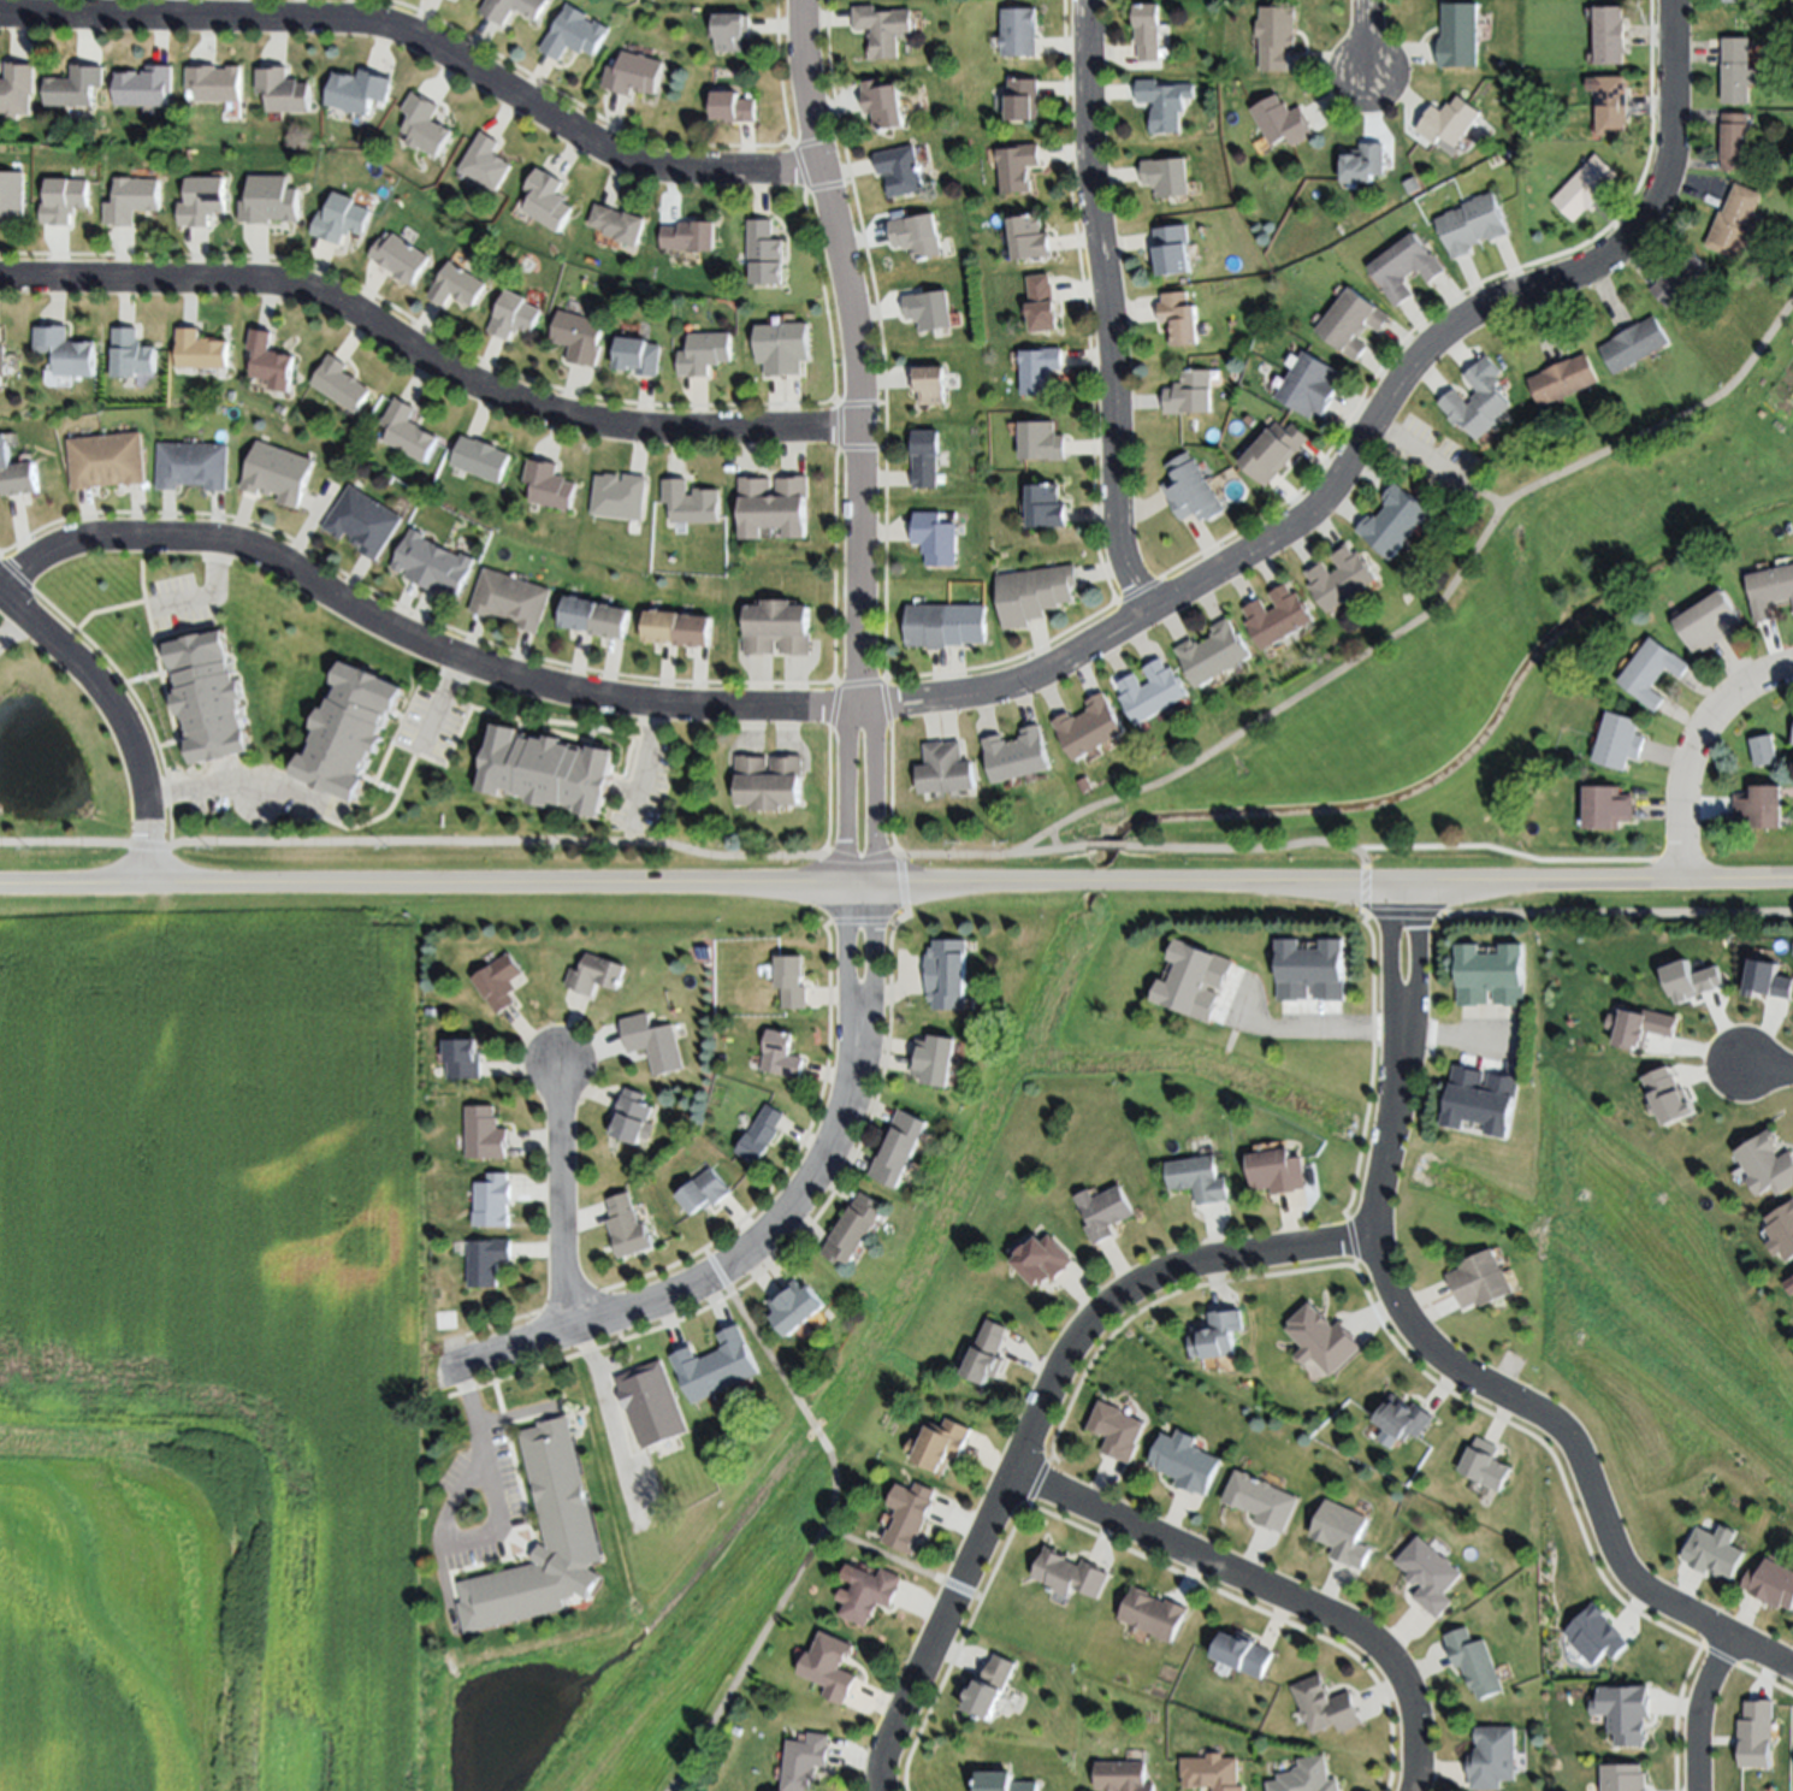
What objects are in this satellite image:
building: (1735, 0)
building: (469, 1)
building: (513, 8)
building: (884, 29)
building: (733, 30)
building: (1149, 30)
building: (1020, 31)
building: (574, 34)
building: (1460, 35)
building: (1610, 35)
building: (1278, 36)
road: (1369, 41)
road: (425, 43)
building: (1738, 71)
building: (633, 75)
building: (218, 83)
building: (77, 87)
building: (147, 87)
building: (18, 89)
building: (285, 90)
building: (361, 90)
building: (1024, 100)
building: (884, 102)
building: (1165, 102)
building: (1612, 105)
building: (734, 107)
building: (1450, 120)
building: (1284, 122)
building: (425, 125)
building: (1735, 142)
building: (485, 162)
building: (1365, 162)
building: (1018, 167)
building: (900, 170)
building: (1167, 176)
building: (1586, 188)
building: (12, 195)
building: (66, 200)
building: (134, 200)
building: (548, 200)
building: (205, 201)
building: (271, 201)
building: (339, 219)
building: (1736, 223)
building: (619, 224)
building: (1473, 225)
building: (916, 235)
building: (688, 236)
building: (1030, 238)
building: (1173, 250)
building: (765, 253)
building: (400, 258)
building: (1404, 267)
building: (1681, 280)
building: (456, 285)
building: (1043, 305)
road: (1113, 308)
building: (929, 309)
building: (514, 315)
building: (1180, 318)
building: (1353, 321)
building: (579, 338)
building: (1634, 345)
building: (782, 348)
building: (202, 350)
building: (69, 351)
road: (854, 351)
building: (132, 354)
building: (705, 354)
building: (638, 355)
building: (2, 359)
building: (272, 361)
road: (426, 361)
building: (1041, 370)
building: (1564, 379)
building: (931, 384)
building: (341, 385)
building: (1310, 385)
building: (1190, 394)
building: (1478, 404)
building: (409, 431)
road: (1368, 438)
building: (1042, 441)
building: (1276, 451)
building: (6, 455)
road: (1426, 457)
building: (483, 459)
building: (927, 460)
parking lot: (1433, 462)
building: (106, 465)
building: (189, 469)
building: (274, 477)
building: (20, 481)
building: (550, 485)
building: (1191, 490)
building: (620, 496)
road: (1489, 500)
building: (691, 502)
building: (1048, 507)
building: (775, 508)
building: (1396, 520)
building: (359, 526)
building: (937, 538)
building: (430, 569)
building: (1342, 578)
building: (1770, 590)
road: (211, 591)
building: (1035, 593)
building: (513, 601)
building: (598, 617)
building: (1279, 617)
building: (1709, 622)
building: (947, 625)
building: (680, 627)
building: (779, 628)
road: (13, 632)
road: (414, 642)
building: (1214, 652)
park: (1432, 666)
building: (1651, 670)
building: (1153, 692)
building: (217, 702)
road: (440, 703)
road: (118, 719)
building: (1090, 727)
building: (341, 734)
building: (1620, 741)
building: (1792, 743)
road: (1693, 749)
building: (1764, 751)
building: (1018, 756)
building: (946, 769)
building: (549, 770)
building: (769, 782)
road: (233, 793)
building: (1761, 806)
building: (1608, 808)
road: (842, 856)
road: (874, 858)
road: (994, 862)
road: (896, 886)
building: (1312, 970)
building: (947, 974)
building: (598, 975)
building: (1491, 975)
building: (792, 981)
building: (1195, 981)
building: (501, 982)
road: (1333, 1030)
road: (1462, 1041)
building: (780, 1056)
building: (464, 1059)
building: (935, 1059)
road: (1765, 1071)
building: (1480, 1100)
building: (632, 1117)
building: (486, 1130)
building: (762, 1135)
building: (901, 1148)
building: (1769, 1165)
building: (1277, 1172)
building: (1199, 1180)
building: (704, 1193)
road: (558, 1198)
building: (493, 1200)
building: (1105, 1211)
building: (628, 1226)
building: (856, 1229)
building: (1045, 1260)
building: (486, 1261)
road: (726, 1269)
building: (1480, 1281)
building: (797, 1307)
building: (1219, 1336)
building: (1324, 1340)
building: (989, 1353)
park: (1653, 1354)
road: (1437, 1356)
building: (717, 1367)
road: (602, 1391)
building: (652, 1405)
road: (1038, 1418)
building: (1404, 1418)
building: (1119, 1431)
building: (943, 1444)
building: (1188, 1461)
building: (1485, 1465)
building: (558, 1488)
building: (1264, 1501)
building: (910, 1517)
road: (497, 1530)
road: (818, 1533)
building: (1342, 1533)
building: (1711, 1556)
road: (890, 1560)
building: (1072, 1574)
building: (1426, 1574)
building: (1774, 1588)
road: (1264, 1590)
building: (872, 1594)
building: (1153, 1614)
building: (1243, 1654)
building: (1471, 1663)
building: (832, 1667)
building: (992, 1687)
building: (1325, 1707)
road: (1697, 1710)
road: (1677, 1716)
building: (1617, 1718)
building: (1489, 1757)
building: (806, 1761)
building: (1211, 1773)
building: (1123, 1777)
building: (1303, 1778)
building: (1619, 1780)
building: (1002, 1783)

